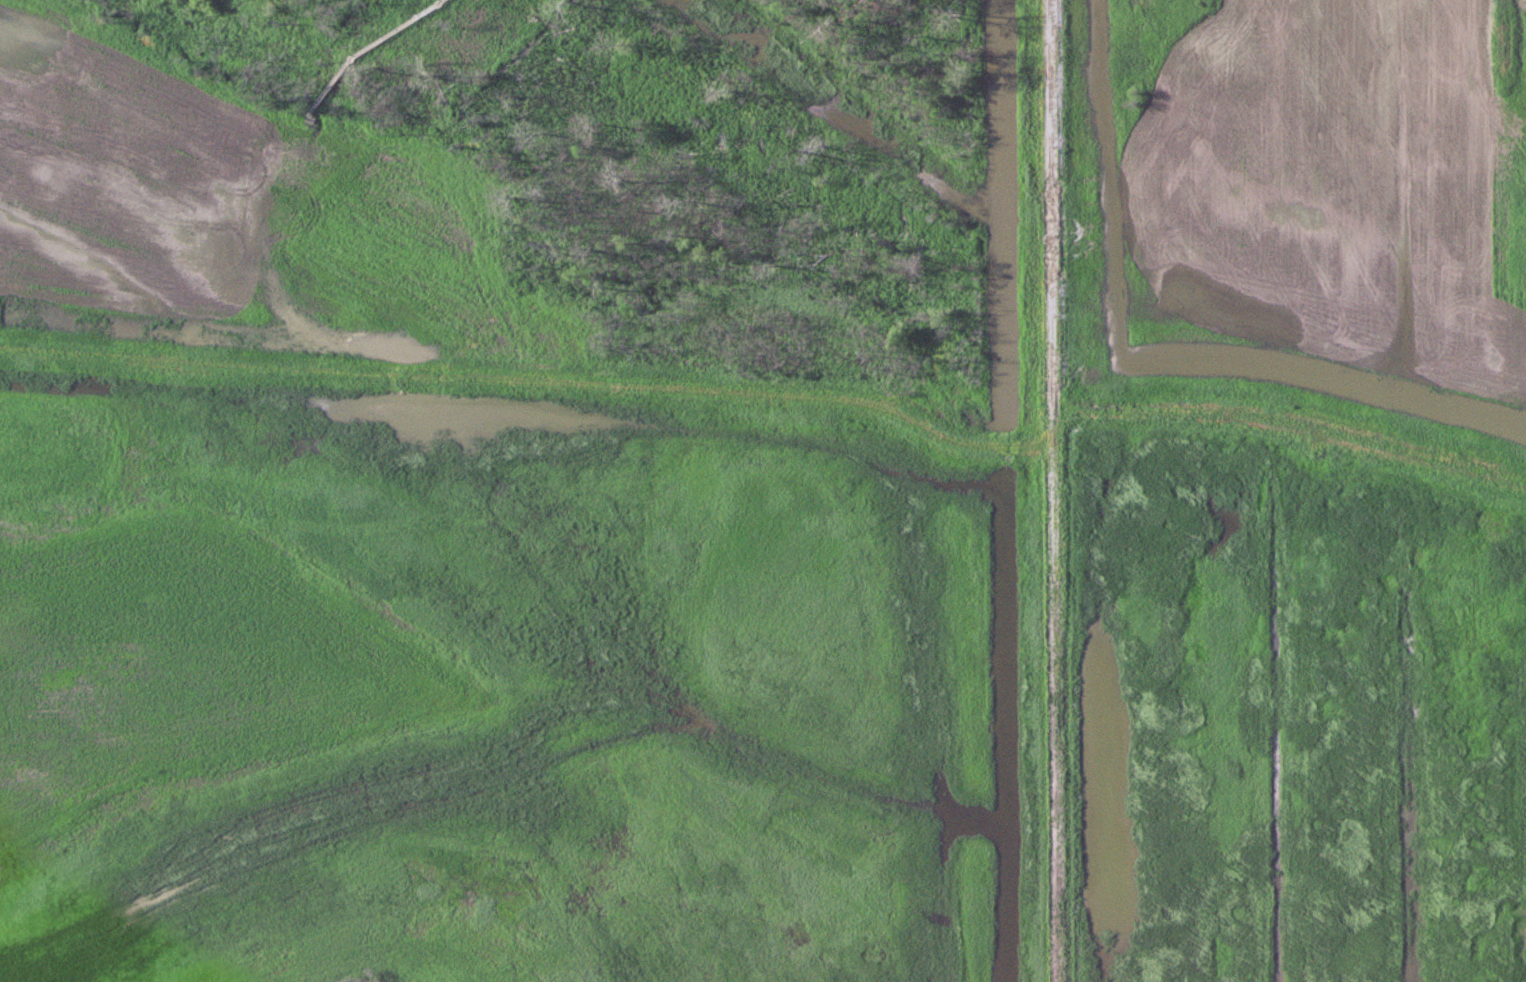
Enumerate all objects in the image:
road: (1054, 490)

